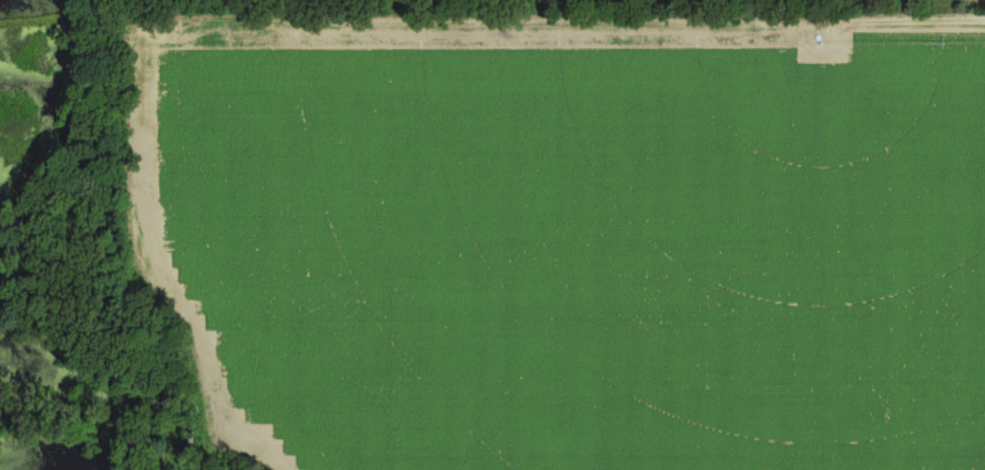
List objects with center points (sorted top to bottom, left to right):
crop: (657, 4)
crop: (572, 234)

